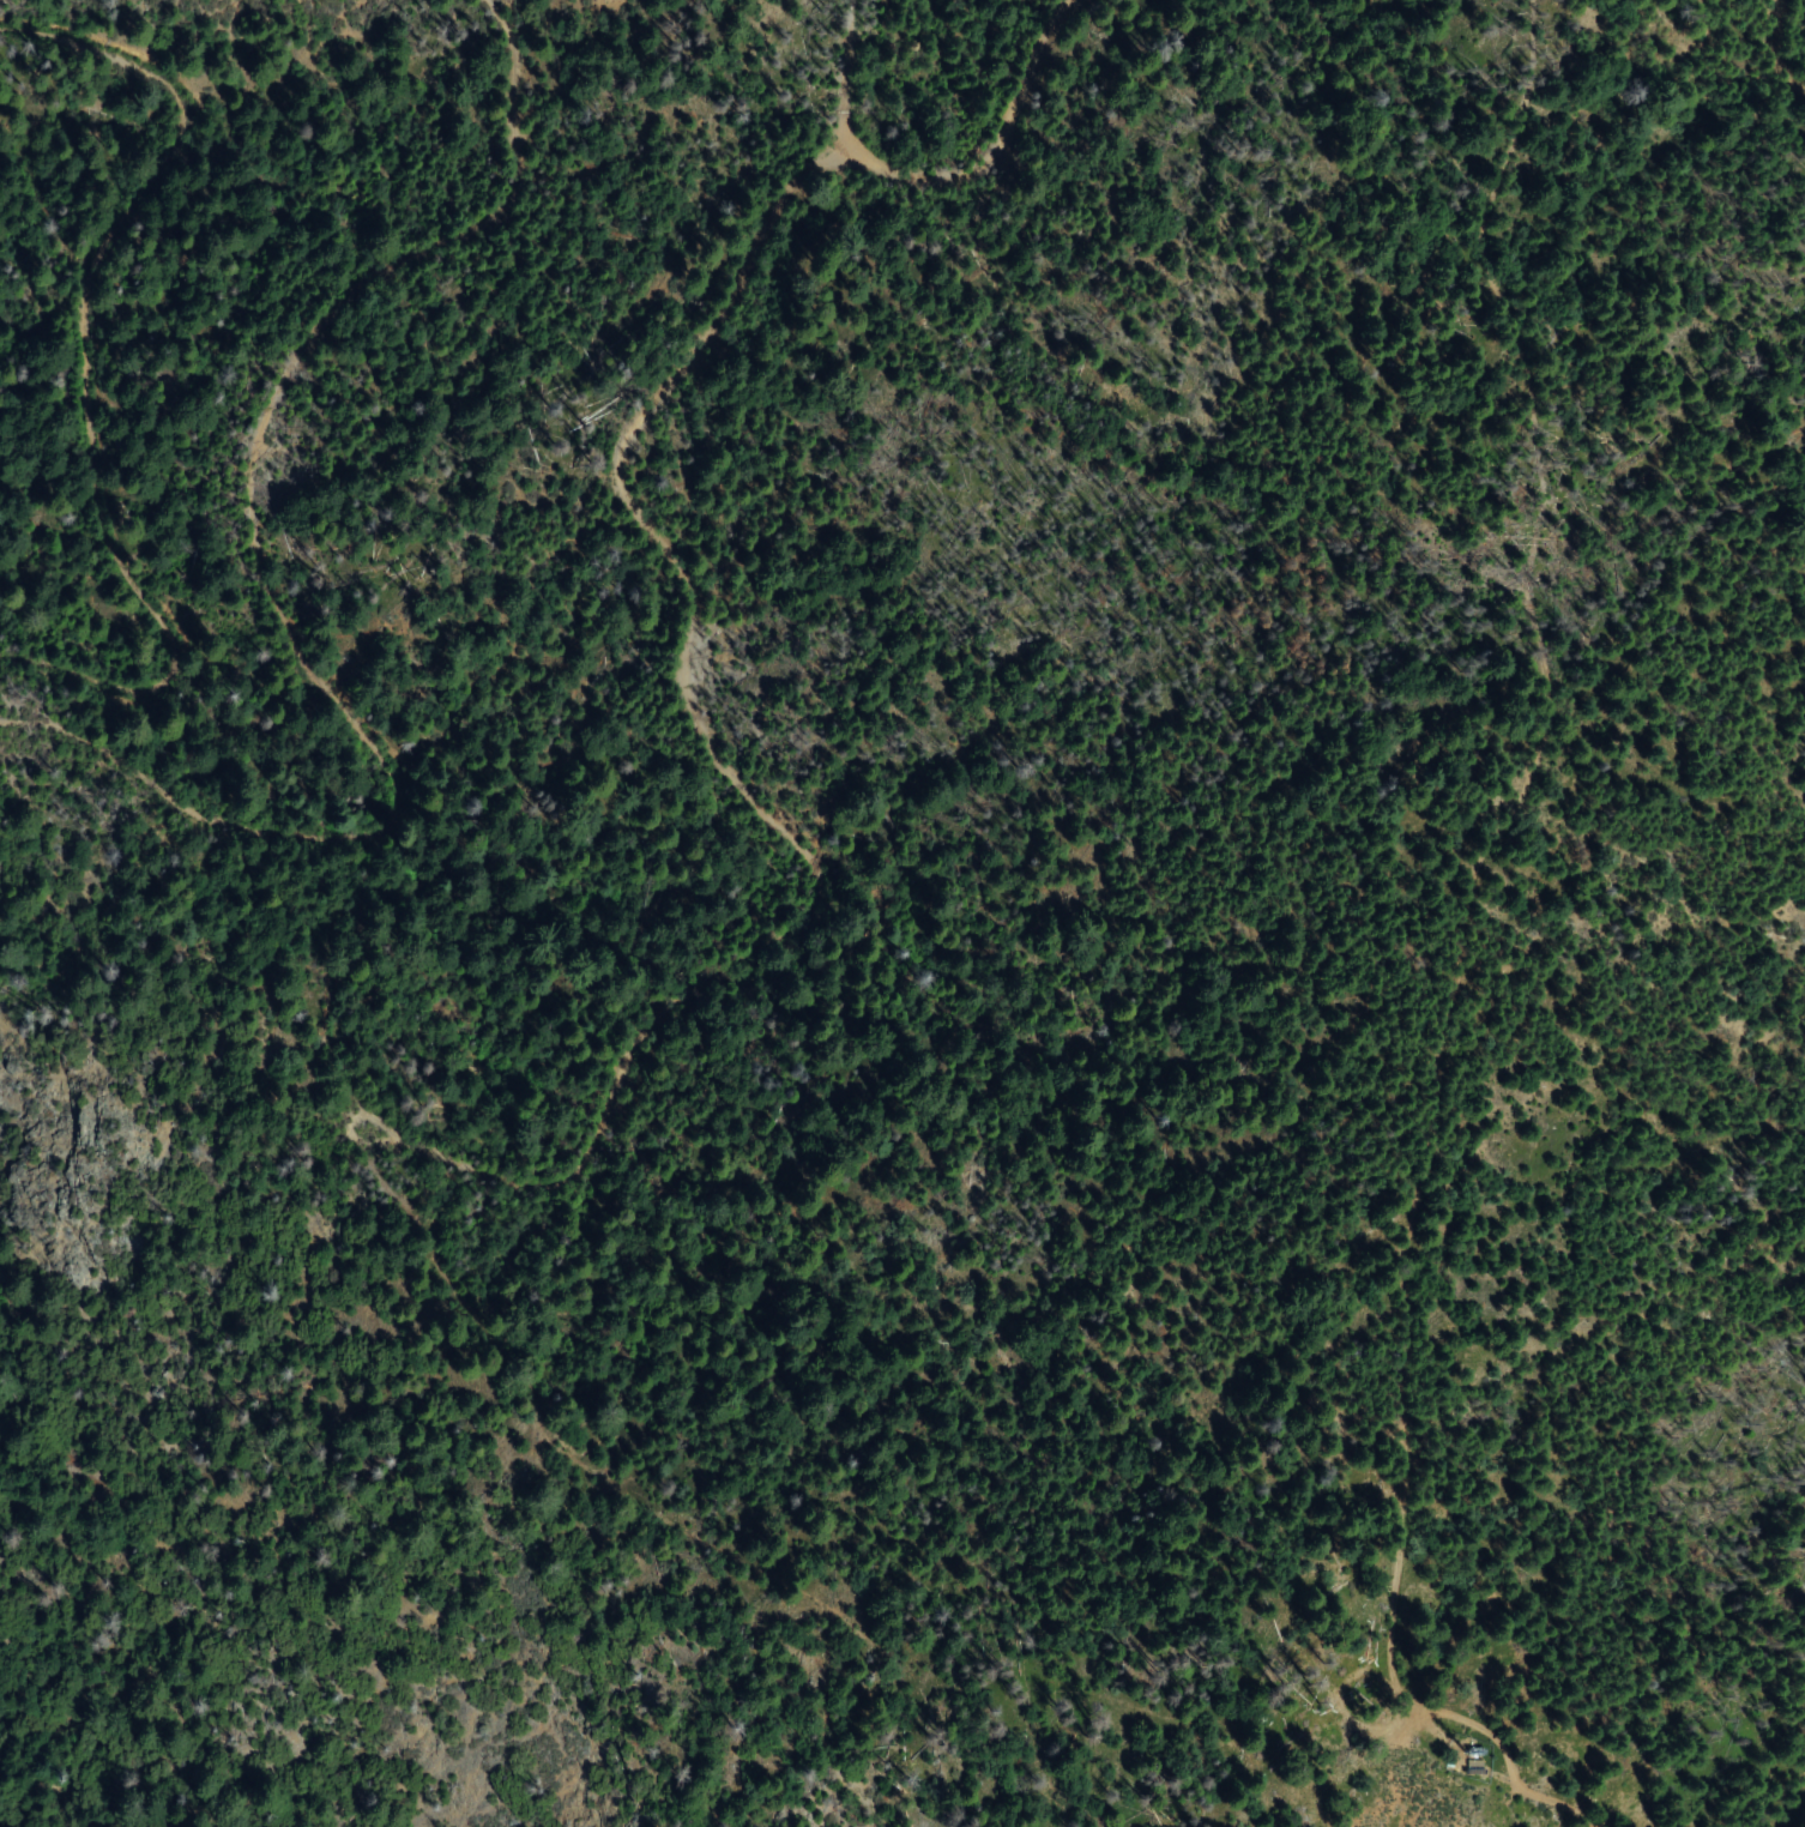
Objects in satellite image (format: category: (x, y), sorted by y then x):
road: (1782, 47)
road: (997, 156)
road: (86, 370)
road: (262, 578)
road: (702, 736)

